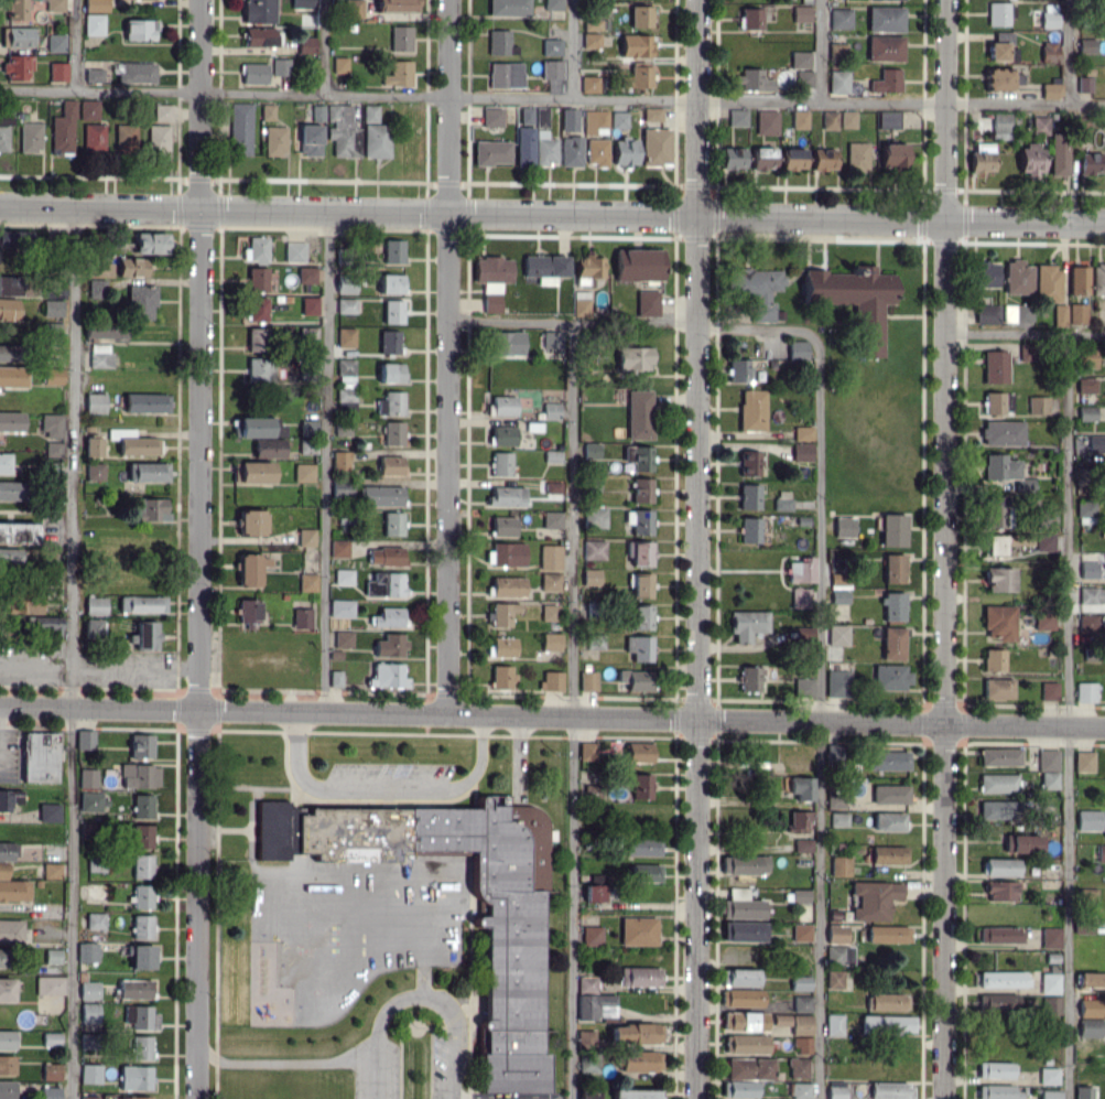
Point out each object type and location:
building: (553, 3)
building: (54, 6)
building: (96, 6)
building: (398, 6)
building: (356, 7)
building: (509, 8)
building: (259, 11)
building: (801, 13)
building: (998, 14)
building: (641, 15)
building: (1050, 15)
building: (750, 18)
building: (841, 18)
building: (886, 19)
building: (94, 23)
building: (140, 29)
building: (592, 32)
building: (18, 36)
building: (401, 37)
building: (55, 42)
building: (500, 42)
road: (73, 43)
building: (306, 44)
road: (325, 45)
building: (636, 45)
building: (999, 45)
building: (1086, 45)
building: (552, 46)
road: (574, 47)
building: (885, 47)
road: (821, 50)
building: (837, 51)
building: (1050, 52)
road: (1068, 52)
building: (339, 64)
building: (17, 66)
building: (802, 67)
building: (264, 69)
building: (57, 71)
building: (136, 72)
building: (398, 73)
building: (506, 74)
building: (552, 74)
building: (94, 75)
building: (640, 76)
building: (998, 78)
building: (754, 79)
building: (887, 80)
building: (838, 82)
building: (589, 84)
building: (1084, 84)
building: (1051, 90)
road: (552, 94)
building: (88, 109)
building: (162, 111)
building: (267, 111)
building: (317, 114)
building: (652, 114)
building: (527, 115)
building: (491, 117)
building: (541, 117)
building: (737, 117)
building: (888, 118)
building: (568, 119)
building: (618, 119)
building: (800, 119)
building: (838, 119)
building: (595, 121)
building: (767, 121)
building: (1000, 125)
building: (1039, 125)
building: (63, 129)
building: (239, 129)
building: (343, 130)
building: (4, 131)
building: (373, 133)
building: (30, 137)
building: (94, 138)
building: (124, 138)
building: (159, 139)
building: (310, 139)
building: (275, 140)
building: (523, 146)
building: (656, 147)
building: (545, 149)
building: (571, 150)
building: (597, 151)
building: (625, 151)
building: (491, 152)
building: (893, 154)
building: (1058, 154)
building: (857, 157)
building: (982, 157)
building: (733, 158)
building: (1030, 158)
building: (762, 159)
building: (793, 159)
building: (823, 159)
building: (1090, 162)
road: (552, 216)
building: (256, 249)
building: (391, 250)
building: (294, 251)
building: (131, 267)
building: (544, 267)
building: (587, 267)
building: (101, 269)
building: (985, 273)
building: (306, 274)
building: (1017, 277)
building: (257, 278)
building: (1097, 278)
building: (491, 279)
building: (1077, 279)
building: (1048, 282)
building: (10, 283)
building: (390, 283)
building: (345, 287)
building: (97, 288)
building: (757, 290)
building: (855, 299)
building: (53, 300)
building: (141, 301)
building: (581, 303)
building: (310, 305)
building: (346, 305)
building: (8, 309)
building: (257, 309)
building: (392, 311)
building: (987, 313)
building: (1017, 313)
building: (1077, 313)
building: (1059, 314)
road: (632, 317)
building: (104, 331)
building: (51, 332)
building: (307, 335)
road: (1025, 335)
building: (345, 337)
building: (258, 338)
building: (552, 340)
building: (389, 341)
building: (507, 342)
building: (798, 349)
building: (6, 352)
building: (1028, 352)
building: (99, 355)
road: (447, 356)
building: (633, 357)
building: (1088, 357)
building: (995, 366)
building: (261, 369)
building: (738, 370)
building: (391, 373)
building: (12, 376)
building: (53, 376)
building: (345, 379)
building: (1086, 385)
building: (95, 402)
building: (145, 402)
building: (390, 402)
building: (998, 402)
building: (1038, 405)
building: (550, 410)
building: (751, 410)
building: (1086, 412)
building: (639, 414)
building: (11, 421)
building: (52, 424)
building: (257, 427)
building: (308, 428)
building: (392, 432)
building: (802, 432)
building: (1000, 432)
building: (503, 435)
building: (94, 443)
building: (1096, 443)
building: (268, 446)
building: (54, 449)
building: (801, 452)
building: (638, 456)
building: (340, 460)
building: (4, 463)
road: (328, 463)
building: (500, 463)
building: (749, 463)
building: (390, 465)
building: (94, 471)
building: (1005, 471)
building: (148, 472)
building: (252, 472)
building: (304, 472)
building: (552, 487)
building: (340, 489)
building: (641, 489)
building: (11, 491)
building: (380, 495)
building: (506, 496)
building: (749, 496)
building: (149, 508)
building: (997, 511)
building: (1085, 511)
building: (594, 516)
building: (552, 519)
building: (250, 521)
building: (641, 521)
building: (392, 522)
building: (502, 526)
building: (844, 526)
building: (749, 529)
building: (893, 529)
building: (18, 532)
building: (305, 537)
building: (1044, 541)
building: (994, 545)
building: (338, 548)
road: (198, 549)
building: (593, 549)
road: (695, 549)
road: (942, 549)
building: (507, 553)
building: (641, 553)
building: (386, 556)
building: (10, 557)
building: (550, 557)
building: (893, 568)
building: (250, 569)
building: (800, 570)
building: (1087, 570)
building: (343, 577)
building: (591, 577)
building: (998, 579)
building: (307, 581)
building: (550, 581)
building: (384, 584)
building: (641, 584)
building: (507, 586)
building: (1092, 594)
building: (800, 597)
building: (141, 603)
building: (20, 604)
building: (95, 605)
building: (893, 606)
building: (340, 607)
building: (248, 610)
building: (550, 612)
building: (501, 613)
building: (388, 616)
building: (640, 616)
building: (301, 617)
building: (1043, 621)
building: (998, 622)
building: (1087, 622)
building: (746, 624)
building: (45, 625)
building: (93, 627)
building: (836, 634)
building: (145, 635)
building: (343, 638)
building: (551, 640)
building: (595, 640)
building: (892, 643)
building: (390, 645)
building: (502, 645)
building: (639, 647)
road: (74, 656)
building: (994, 659)
building: (387, 675)
building: (889, 676)
building: (501, 677)
building: (749, 678)
building: (636, 679)
building: (588, 680)
building: (551, 681)
building: (836, 682)
building: (803, 687)
building: (998, 688)
building: (1049, 691)
building: (1085, 691)
road: (572, 708)
road: (820, 709)
road: (552, 715)
road: (1068, 716)
building: (85, 739)
building: (140, 745)
building: (587, 750)
building: (638, 752)
building: (832, 753)
building: (40, 756)
road: (294, 756)
building: (999, 756)
road: (479, 757)
building: (887, 759)
building: (1084, 761)
building: (1049, 767)
building: (139, 775)
building: (87, 777)
building: (998, 783)
building: (640, 785)
building: (801, 787)
road: (387, 789)
building: (890, 794)
building: (9, 798)
building: (90, 801)
building: (142, 806)
building: (999, 809)
building: (48, 812)
building: (838, 819)
building: (798, 820)
building: (1088, 820)
building: (888, 821)
building: (89, 830)
building: (140, 836)
building: (1022, 843)
building: (802, 844)
building: (642, 845)
building: (1101, 852)
building: (887, 854)
building: (744, 864)
building: (142, 865)
building: (839, 866)
building: (1000, 866)
building: (2, 870)
building: (52, 870)
building: (646, 872)
building: (999, 890)
building: (595, 892)
building: (800, 895)
building: (142, 896)
building: (874, 898)
building: (740, 905)
building: (95, 920)
building: (142, 926)
building: (11, 930)
building: (638, 930)
building: (744, 930)
building: (801, 931)
building: (836, 934)
building: (889, 934)
building: (998, 934)
building: (592, 935)
building: (1051, 937)
building: (87, 951)
building: (838, 955)
building: (52, 956)
building: (141, 956)
building: (1, 957)
building: (640, 976)
building: (739, 977)
building: (834, 978)
building: (1000, 979)
building: (1091, 979)
building: (800, 982)
building: (1049, 982)
building: (50, 984)
building: (6, 989)
building: (88, 989)
building: (134, 989)
road: (418, 993)
building: (741, 996)
building: (594, 1001)
building: (885, 1001)
building: (998, 1001)
building: (801, 1003)
building: (1050, 1004)
building: (1088, 1008)
building: (511, 1009)
building: (89, 1012)
building: (140, 1019)
building: (744, 1021)
building: (801, 1024)
building: (833, 1024)
building: (886, 1024)
building: (1090, 1027)
building: (635, 1033)
building: (51, 1038)
building: (586, 1038)
building: (7, 1039)
building: (745, 1044)
building: (802, 1044)
building: (141, 1046)
building: (640, 1060)
road: (286, 1062)
building: (588, 1062)
building: (7, 1065)
building: (798, 1067)
building: (749, 1068)
building: (995, 1069)
building: (51, 1070)
building: (90, 1073)
building: (1048, 1075)
building: (134, 1077)
building: (7, 1089)
building: (738, 1089)
building: (835, 1089)
building: (799, 1090)
building: (890, 1090)
building: (50, 1091)
building: (998, 1091)
building: (1085, 1091)
building: (587, 1093)
building: (636, 1093)
building: (1049, 1095)
building: (87, 1097)
building: (136, 1097)

